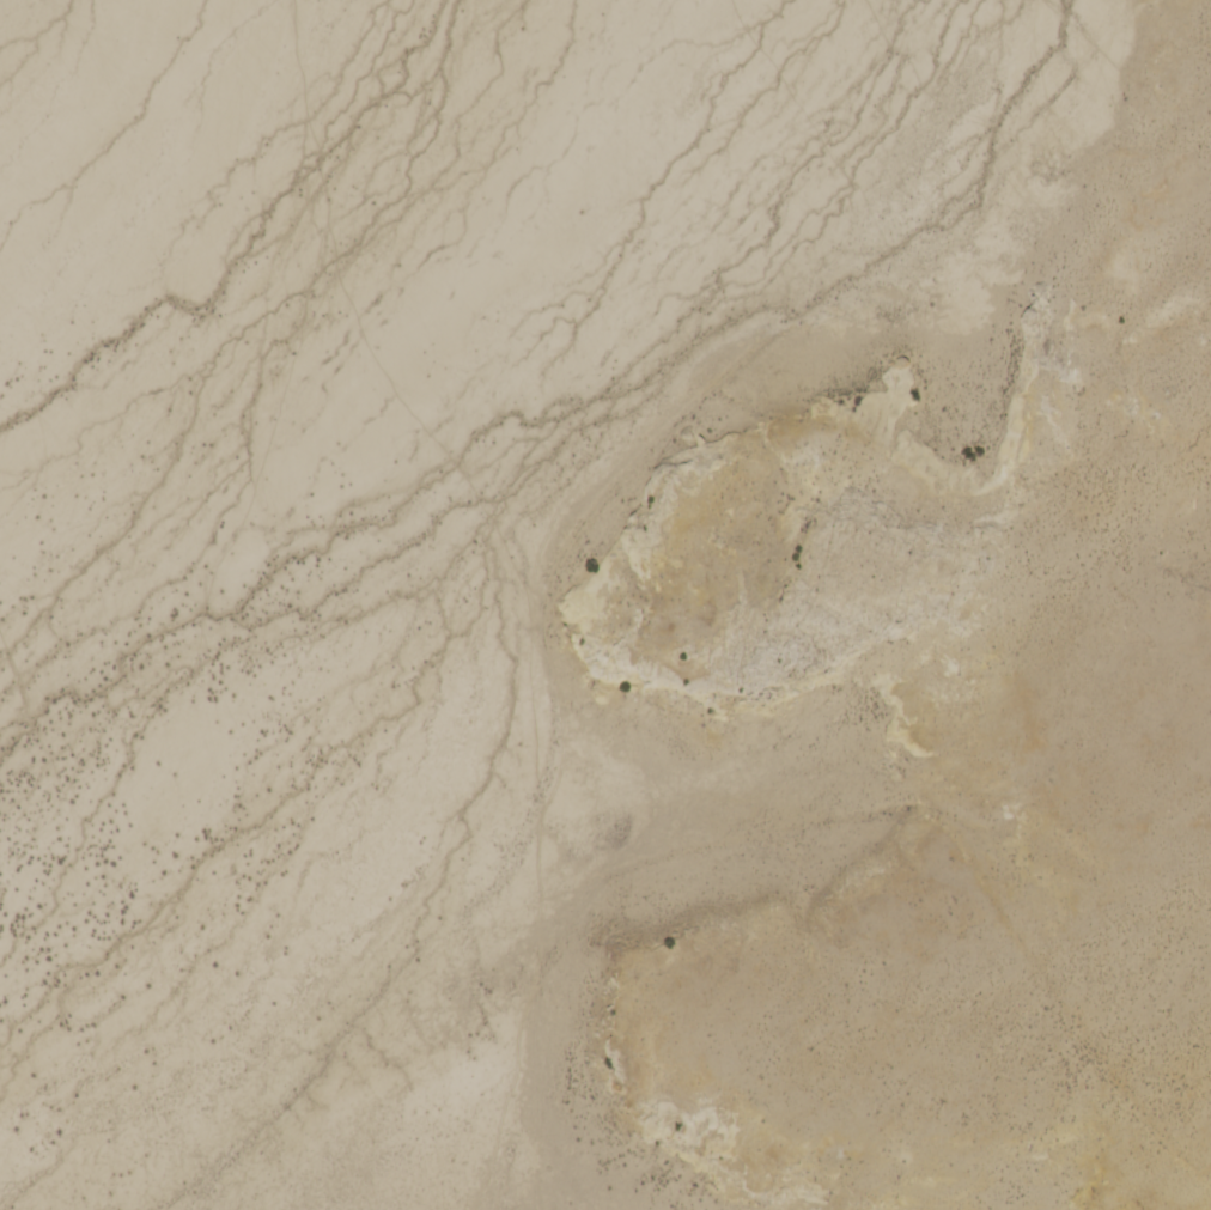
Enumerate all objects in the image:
river: (601, 364)
river: (432, 405)

